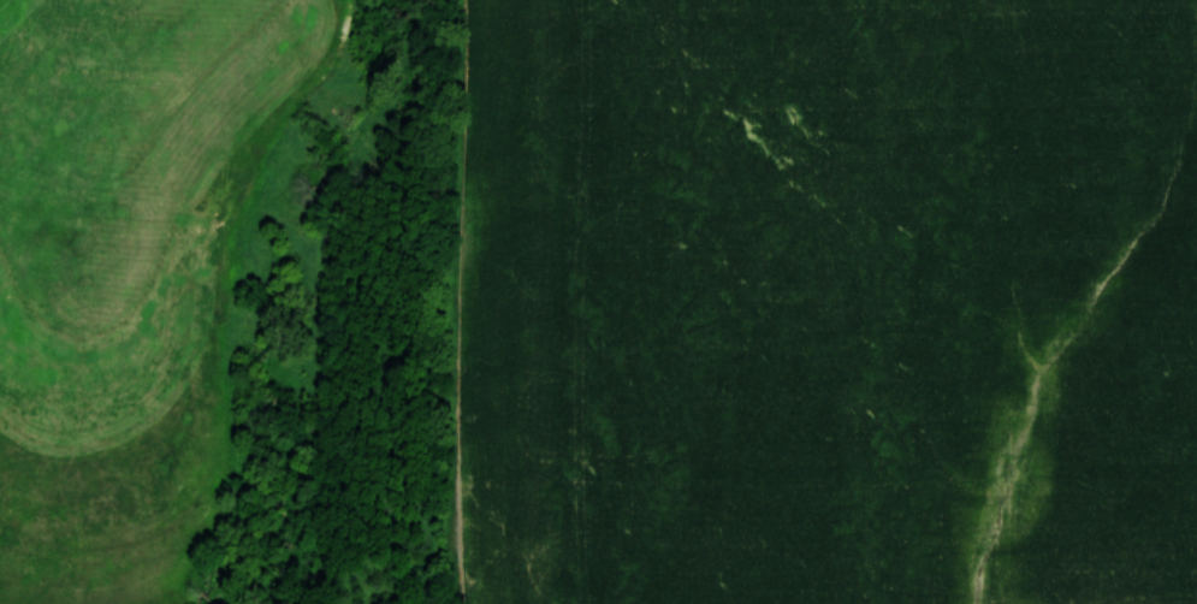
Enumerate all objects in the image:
crop: (829, 302)

